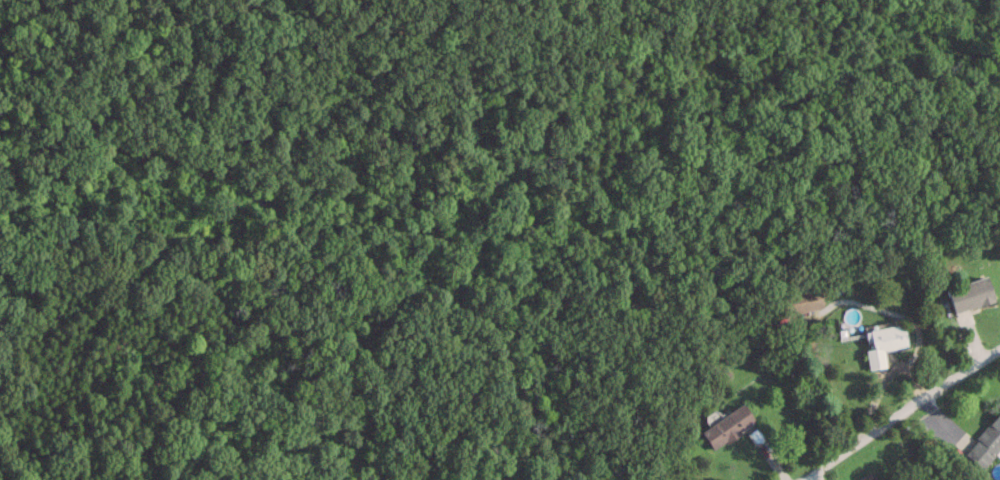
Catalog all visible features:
building: (967, 294)
building: (799, 301)
building: (881, 344)
road: (902, 413)
building: (725, 426)
building: (984, 441)
building: (865, 476)

